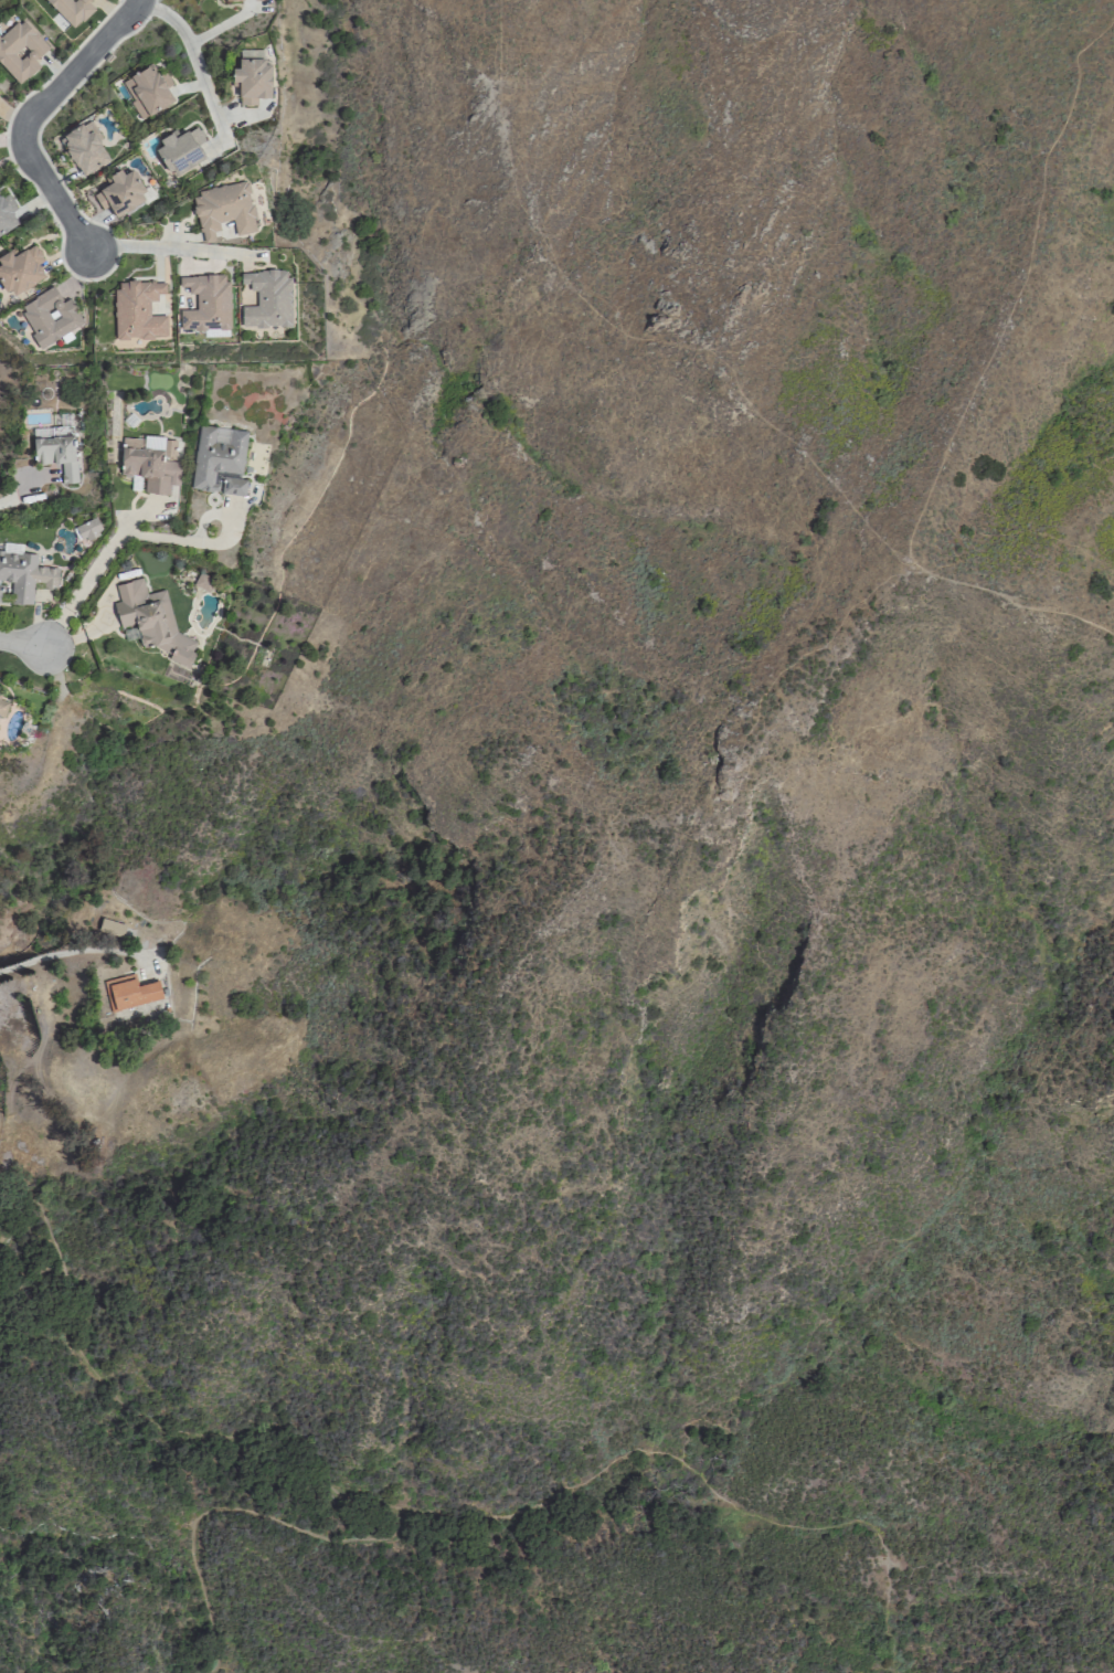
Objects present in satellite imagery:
building: (232, 0)
building: (72, 10)
building: (20, 51)
road: (191, 55)
building: (252, 76)
building: (147, 91)
road: (29, 115)
building: (84, 148)
building: (180, 150)
building: (119, 192)
building: (223, 210)
building: (6, 212)
road: (170, 250)
building: (20, 269)
building: (267, 298)
building: (206, 303)
building: (138, 310)
building: (50, 317)
building: (56, 455)
building: (219, 460)
building: (150, 464)
road: (3, 498)
building: (87, 530)
building: (24, 573)
road: (892, 575)
road: (91, 579)
building: (203, 582)
building: (151, 620)
road: (23, 644)
building: (2, 707)
building: (112, 926)
road: (73, 953)
building: (129, 992)
road: (322, 1479)
road: (701, 1481)

